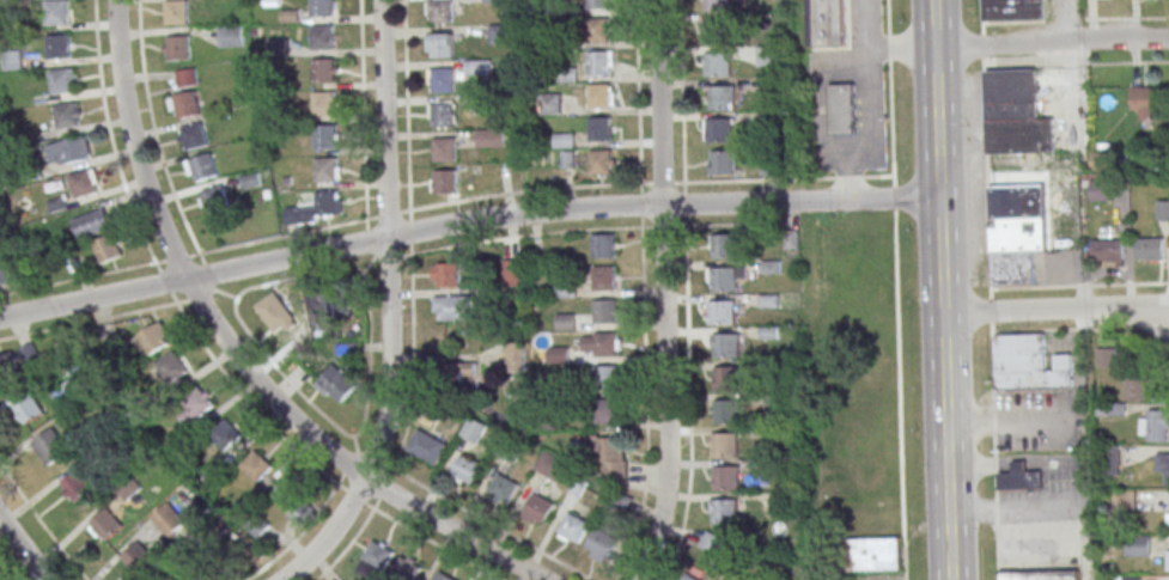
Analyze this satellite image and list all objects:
building: (491, 0)
building: (597, 4)
building: (718, 5)
building: (322, 8)
building: (1013, 10)
building: (176, 11)
building: (442, 11)
building: (57, 13)
road: (981, 16)
road: (1074, 18)
building: (827, 23)
building: (598, 30)
building: (717, 32)
building: (498, 33)
building: (231, 35)
building: (323, 38)
road: (1051, 43)
building: (443, 45)
road: (899, 45)
building: (60, 47)
building: (177, 47)
building: (763, 55)
building: (12, 59)
road: (1025, 60)
road: (1119, 62)
building: (601, 63)
building: (718, 65)
road: (1070, 69)
building: (323, 71)
building: (475, 71)
building: (187, 77)
building: (444, 80)
building: (62, 81)
building: (599, 96)
building: (722, 98)
building: (1146, 99)
building: (324, 103)
road: (865, 103)
building: (184, 104)
building: (548, 104)
building: (842, 110)
building: (444, 115)
building: (1016, 115)
building: (67, 116)
road: (364, 120)
building: (775, 120)
building: (601, 129)
building: (720, 132)
building: (194, 135)
building: (325, 136)
building: (489, 138)
road: (154, 140)
building: (75, 151)
building: (445, 151)
building: (1100, 160)
building: (602, 161)
building: (725, 164)
building: (768, 165)
building: (203, 166)
building: (327, 169)
road: (893, 178)
road: (408, 179)
road: (789, 179)
building: (446, 182)
building: (84, 183)
building: (1100, 190)
building: (213, 197)
building: (327, 203)
road: (464, 222)
building: (92, 224)
road: (663, 226)
building: (1016, 232)
road: (525, 236)
road: (386, 239)
road: (243, 243)
building: (604, 245)
building: (106, 248)
building: (726, 248)
building: (1150, 249)
building: (1108, 252)
road: (372, 254)
building: (511, 271)
building: (446, 274)
road: (296, 275)
building: (4, 276)
building: (605, 279)
building: (725, 280)
road: (1079, 285)
road: (209, 288)
building: (565, 289)
road: (939, 289)
road: (686, 291)
road: (664, 292)
road: (644, 293)
building: (334, 301)
road: (990, 305)
building: (452, 306)
road: (1054, 309)
building: (607, 311)
building: (276, 313)
building: (724, 313)
road: (98, 317)
road: (1144, 317)
building: (566, 322)
road: (1083, 330)
building: (156, 337)
building: (608, 344)
building: (727, 346)
road: (208, 352)
road: (369, 354)
road: (235, 356)
building: (516, 356)
building: (1106, 356)
building: (18, 361)
building: (1029, 365)
building: (173, 366)
road: (281, 373)
building: (458, 377)
building: (609, 377)
building: (727, 378)
building: (337, 383)
building: (74, 386)
building: (1139, 387)
building: (195, 405)
building: (29, 408)
building: (609, 410)
building: (727, 411)
road: (1007, 419)
building: (1155, 425)
building: (474, 429)
building: (227, 434)
building: (725, 444)
building: (51, 446)
building: (430, 446)
building: (610, 448)
building: (1112, 459)
building: (1163, 463)
building: (257, 465)
building: (550, 465)
building: (469, 469)
road: (900, 469)
road: (689, 470)
road: (646, 471)
building: (726, 477)
building: (1019, 477)
road: (385, 480)
building: (79, 486)
building: (128, 488)
building: (505, 488)
building: (294, 501)
building: (542, 508)
building: (725, 511)
road: (1051, 511)
road: (475, 514)
road: (312, 517)
building: (170, 520)
road: (42, 524)
building: (106, 524)
building: (260, 526)
building: (577, 527)
road: (328, 533)
building: (712, 542)
building: (603, 544)
building: (1138, 545)
road: (22, 550)
building: (875, 554)
building: (140, 556)
building: (380, 556)
building: (1168, 556)
building: (408, 569)
road: (5, 574)
building: (1042, 575)
building: (445, 576)
building: (689, 578)
building: (1127, 578)

